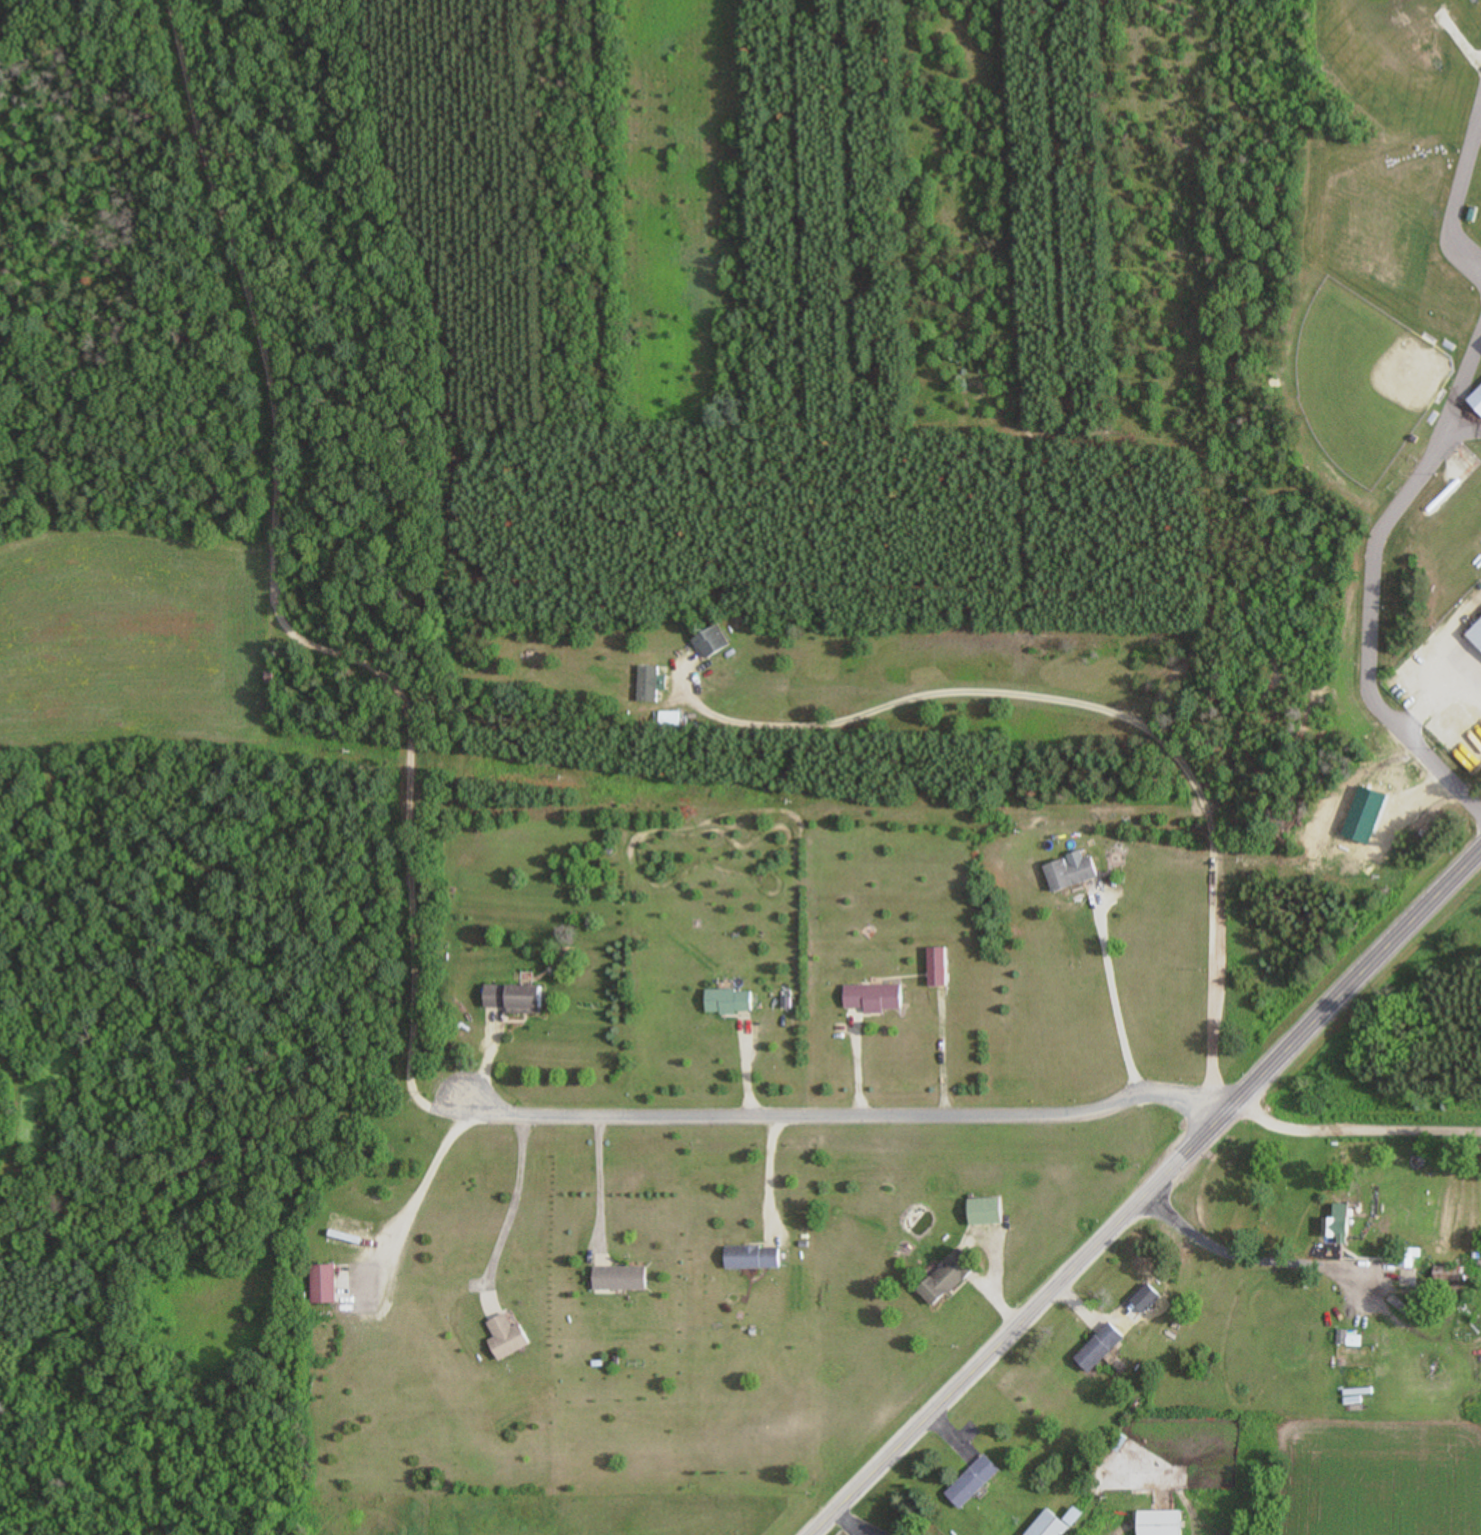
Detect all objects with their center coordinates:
road: (1453, 193)
park: (1350, 391)
building: (1475, 398)
road: (1366, 583)
road: (272, 613)
building: (1473, 631)
building: (710, 642)
building: (647, 685)
road: (1443, 700)
building: (669, 721)
road: (1074, 725)
building: (1069, 873)
building: (936, 968)
building: (511, 998)
building: (873, 998)
building: (727, 1002)
road: (1318, 1019)
road: (844, 1116)
road: (767, 1173)
road: (427, 1176)
road: (597, 1181)
road: (511, 1198)
building: (984, 1212)
building: (1339, 1222)
building: (751, 1257)
building: (1412, 1258)
road: (1246, 1264)
building: (1447, 1274)
building: (945, 1278)
building: (619, 1279)
building: (322, 1284)
building: (505, 1338)
building: (1099, 1345)
road: (983, 1363)
road: (1231, 1444)
building: (972, 1483)
building: (1158, 1523)
building: (1050, 1525)

